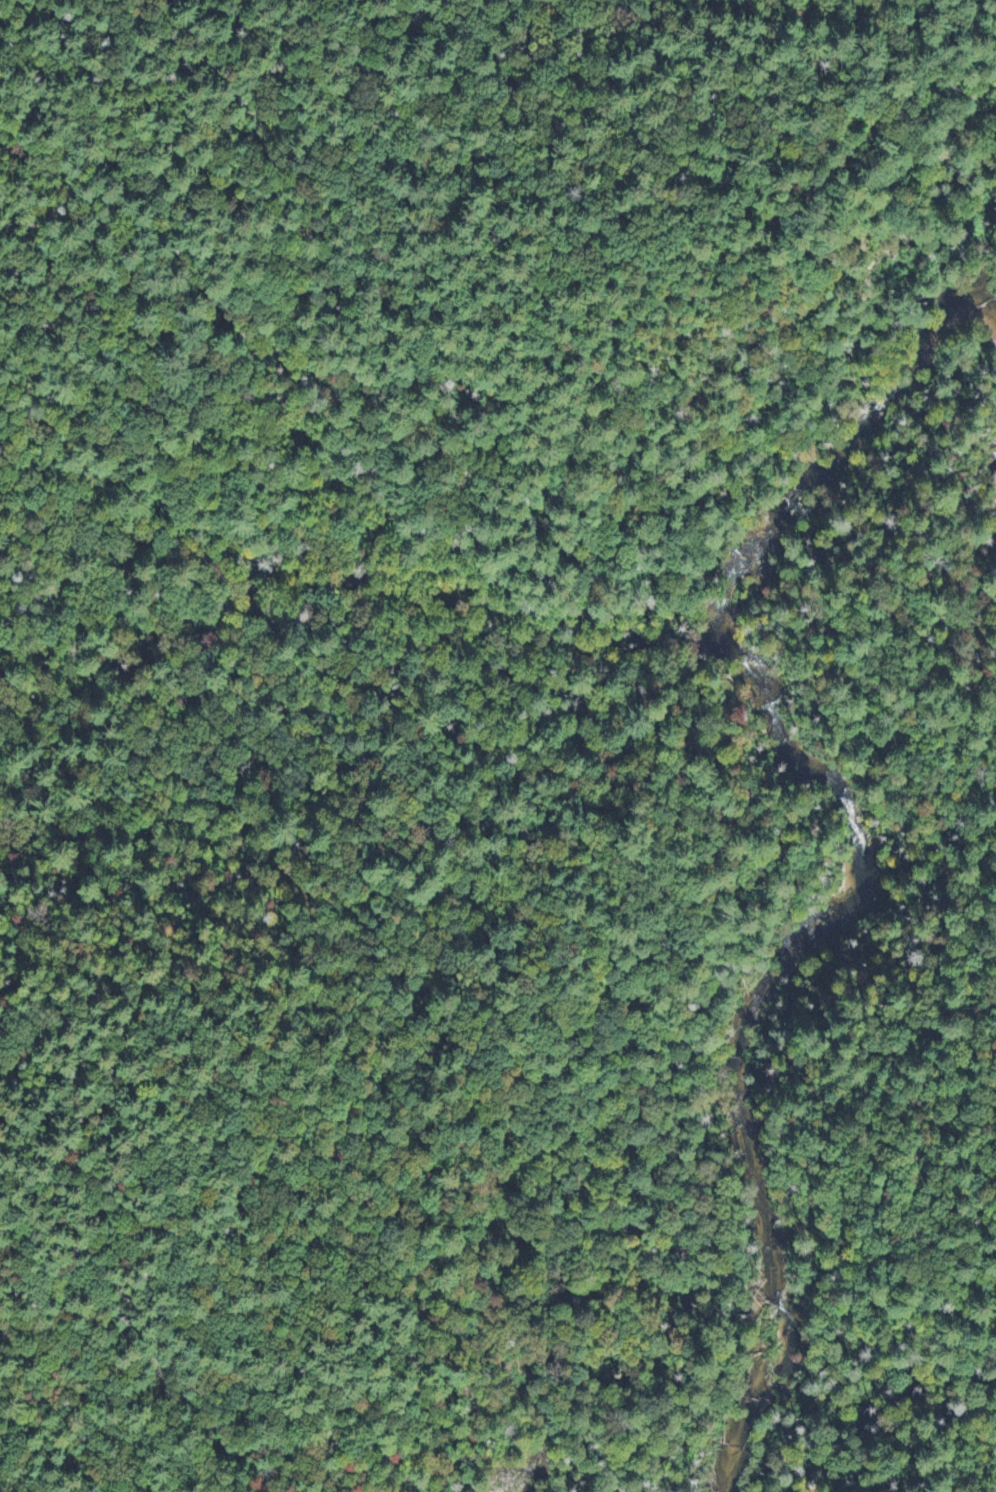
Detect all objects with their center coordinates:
river: (860, 831)

